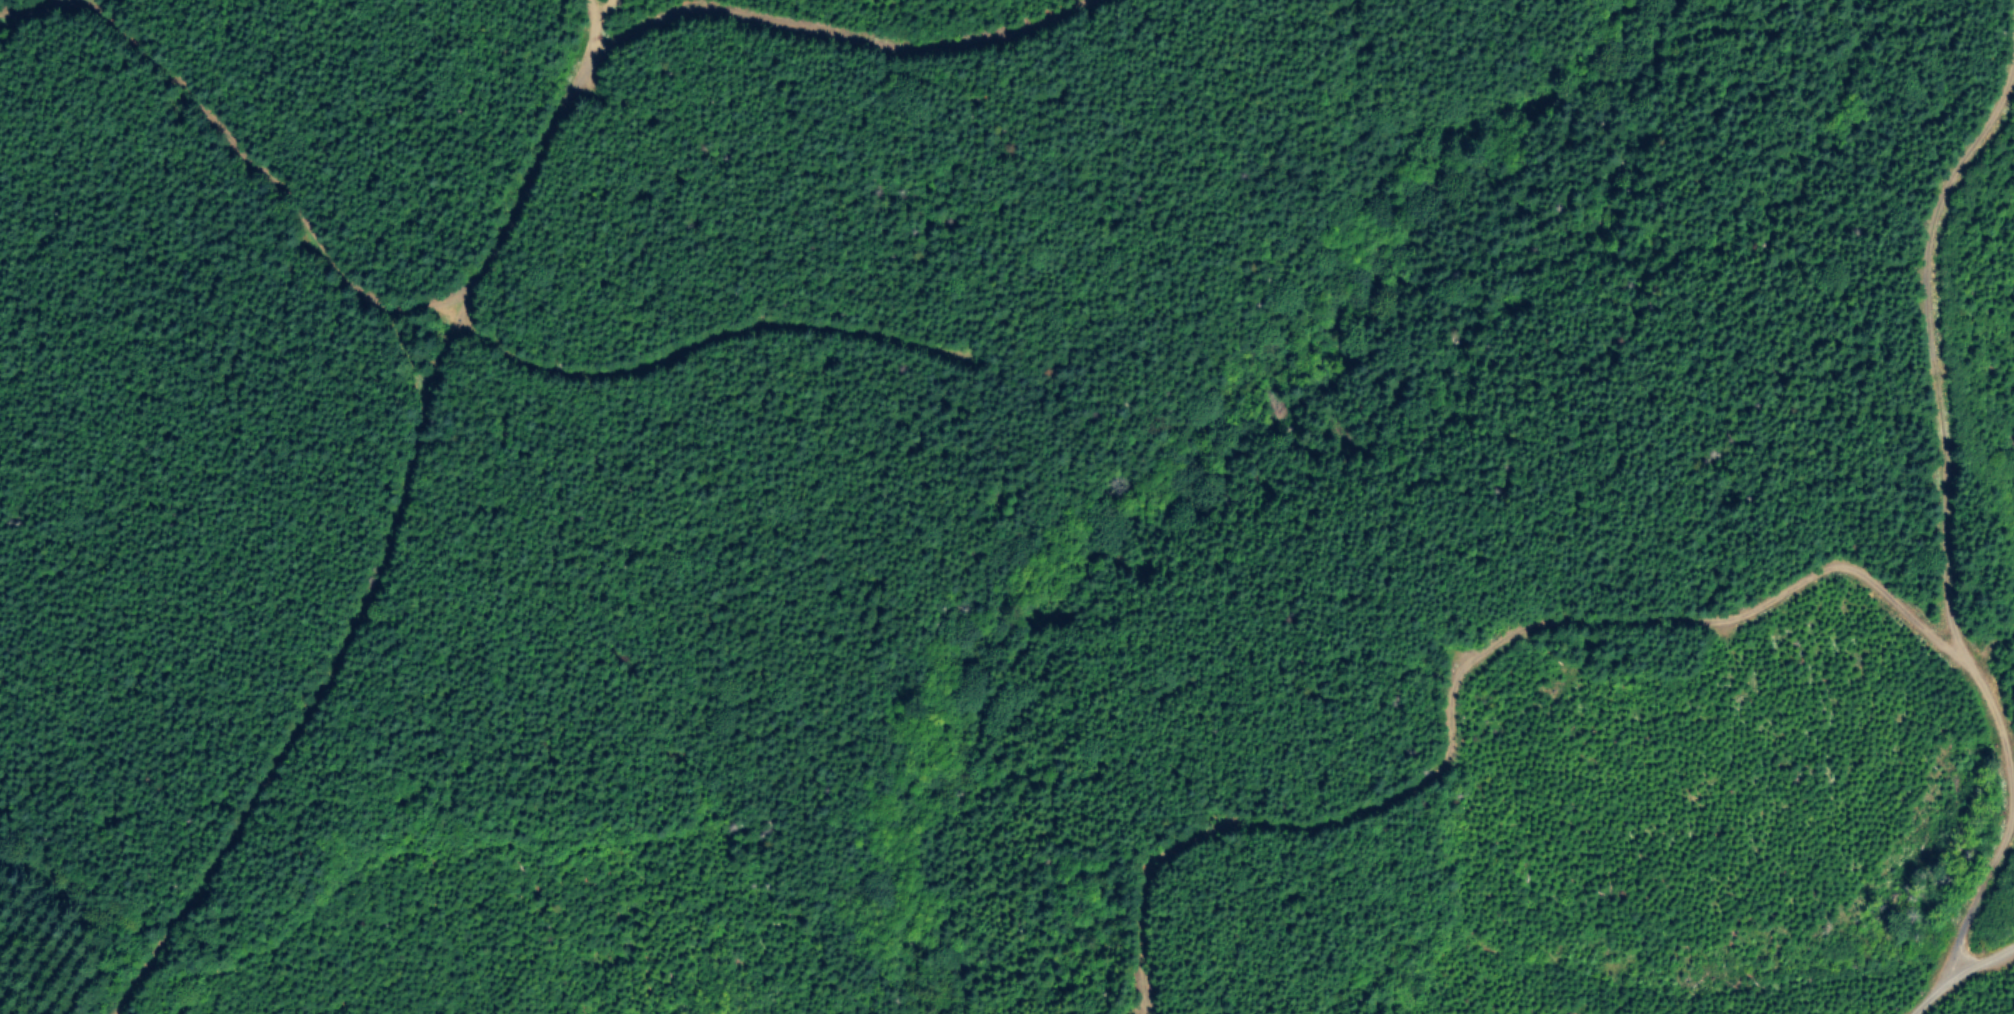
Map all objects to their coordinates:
road: (1937, 617)

